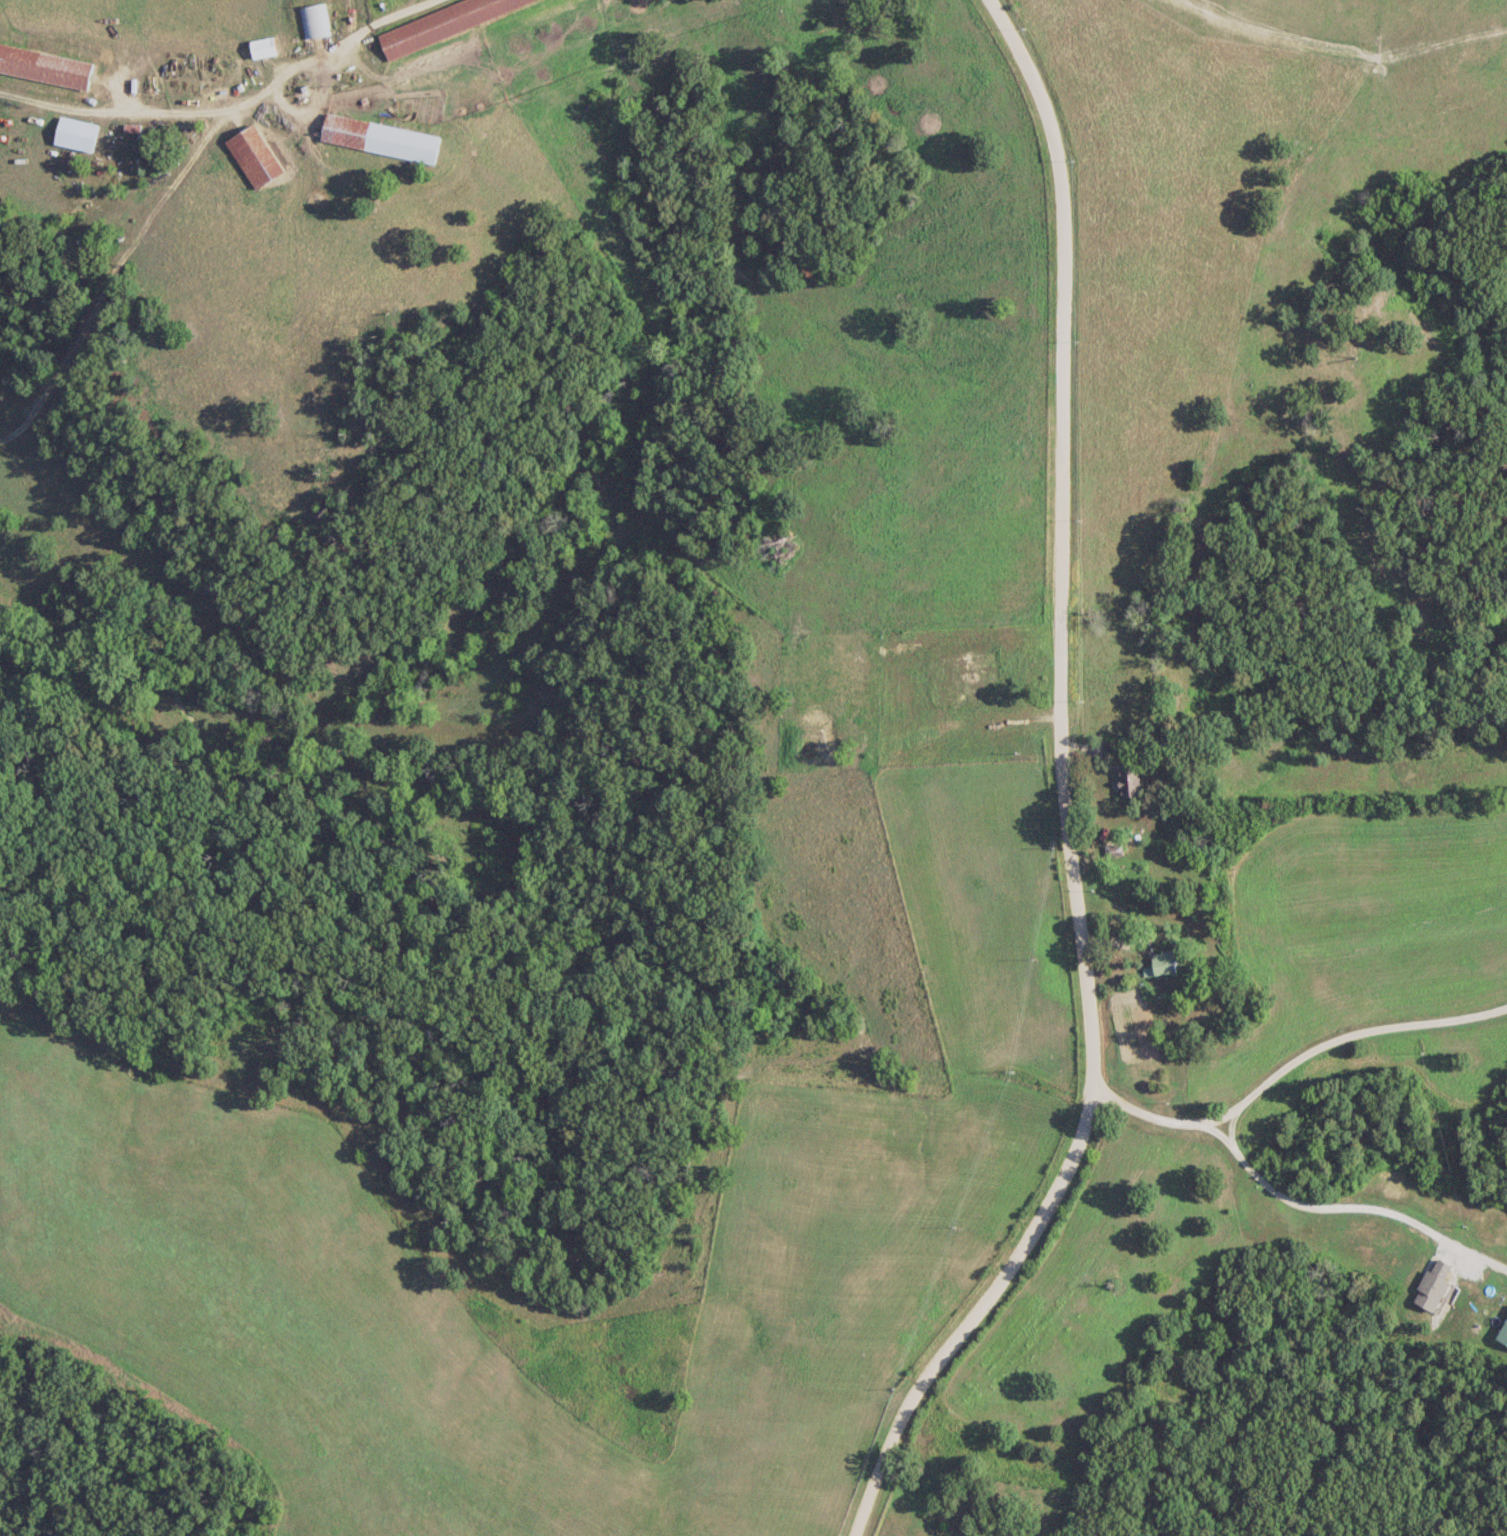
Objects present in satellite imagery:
building: (312, 20)
building: (442, 22)
building: (262, 47)
building: (44, 64)
building: (75, 134)
building: (380, 137)
building: (254, 156)
building: (980, 691)
building: (1128, 781)
road: (1065, 791)
building: (1165, 962)
road: (1287, 1061)
road: (1229, 1123)
road: (1329, 1208)
building: (1480, 1290)
building: (1502, 1332)

